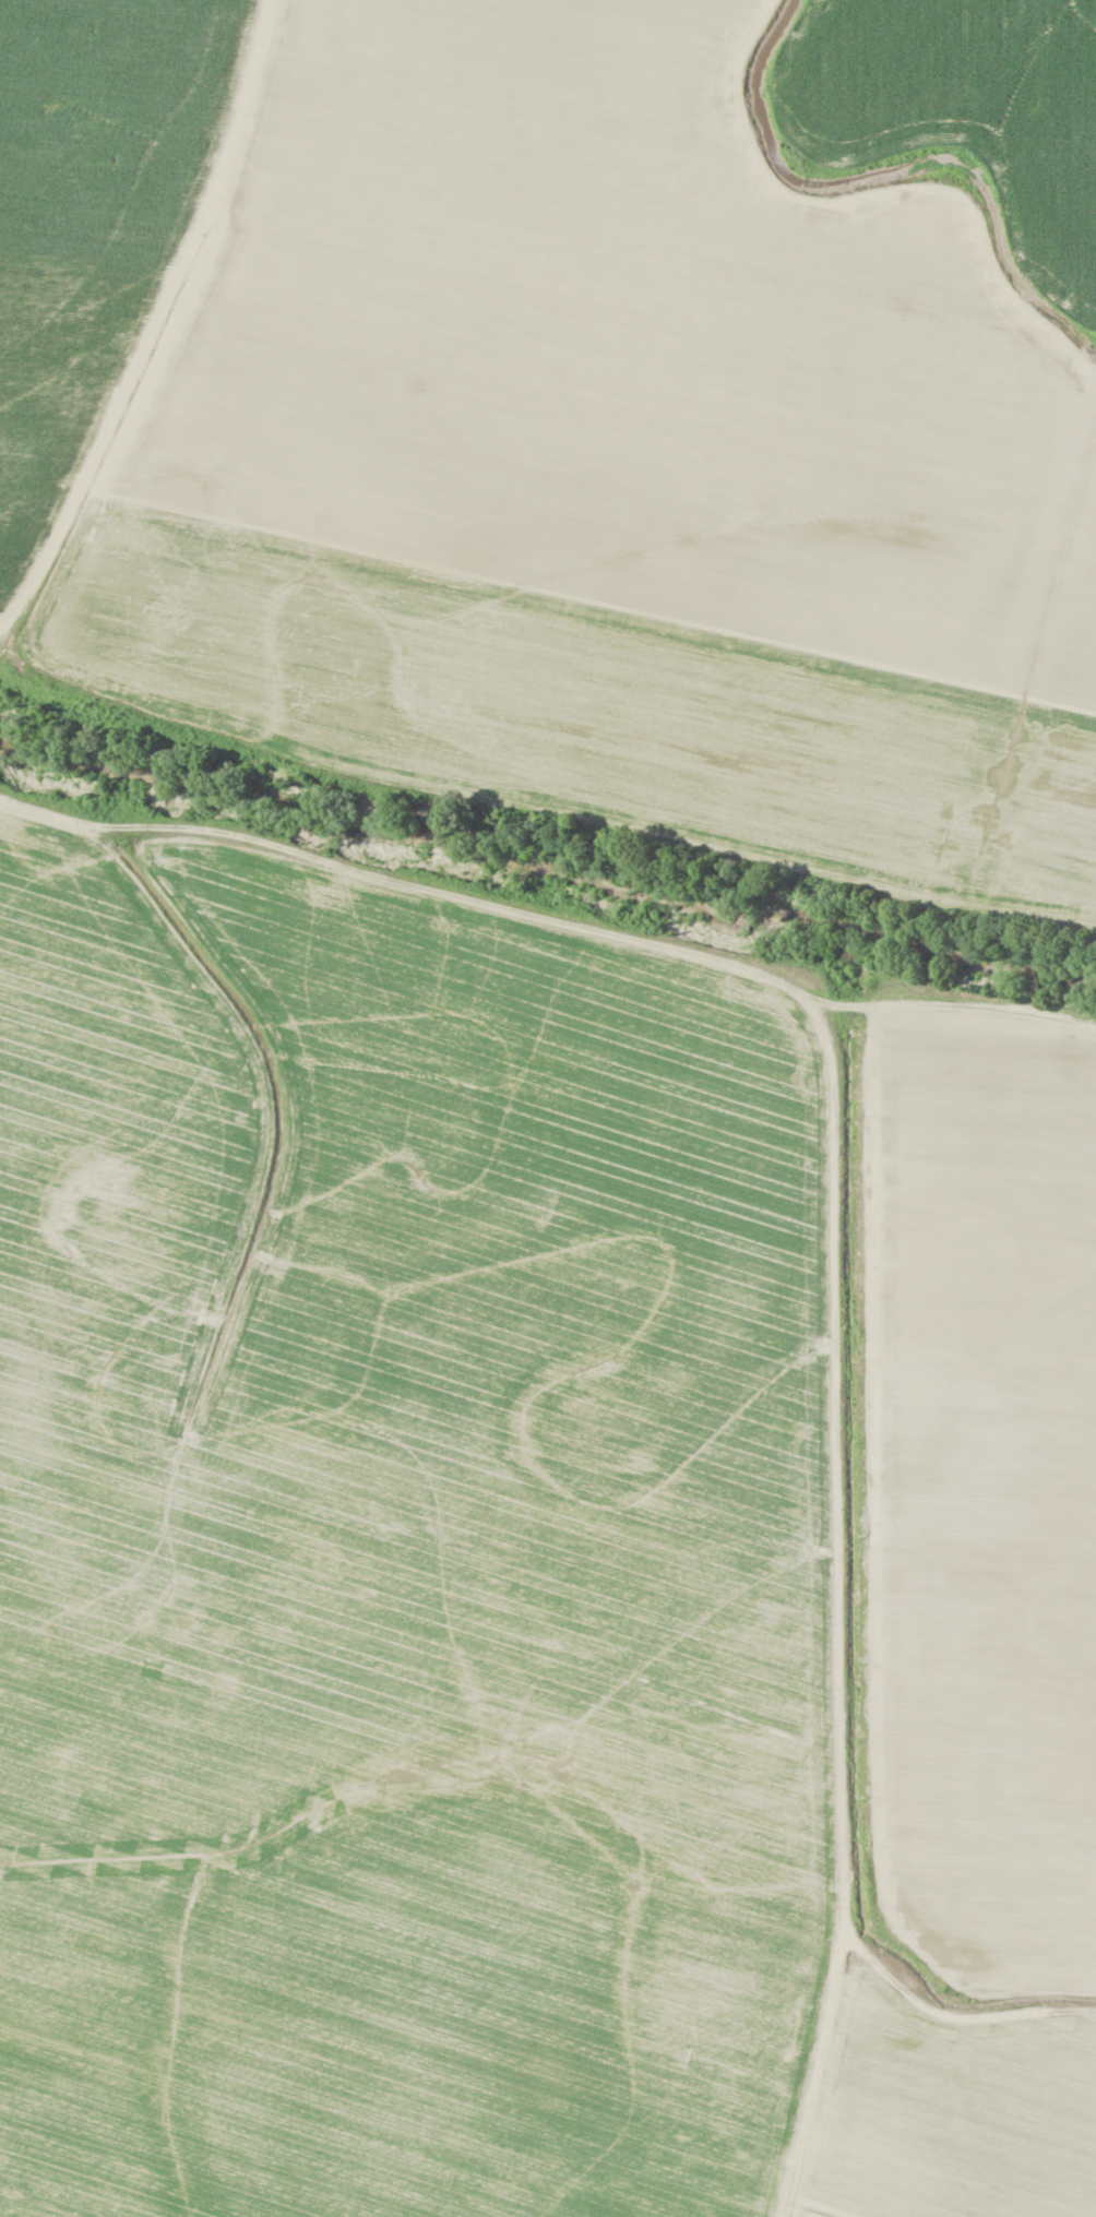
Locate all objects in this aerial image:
road: (140, 318)

